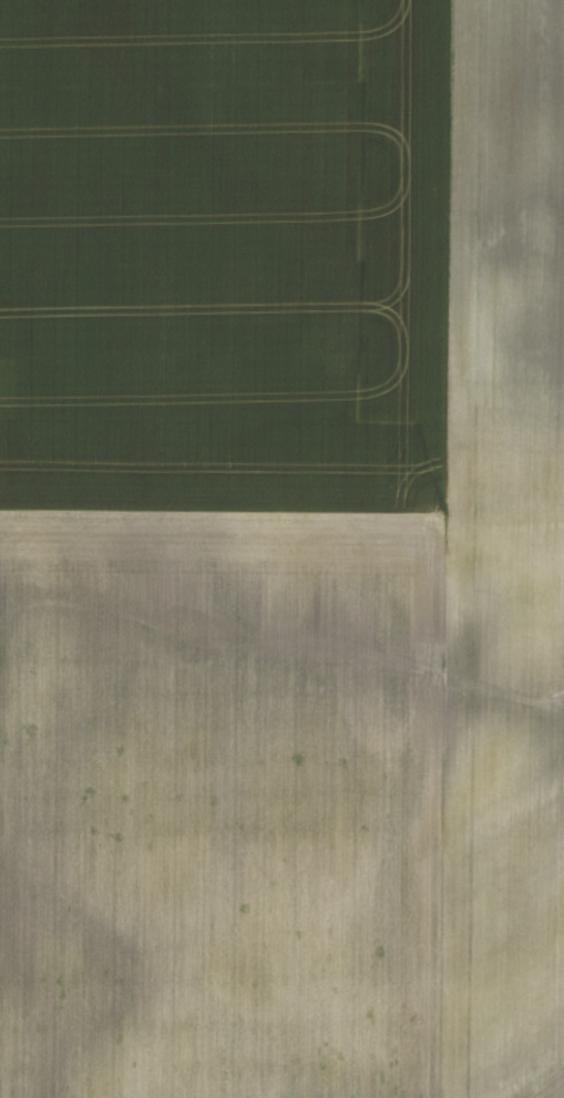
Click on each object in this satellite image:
crop: (281, 548)

